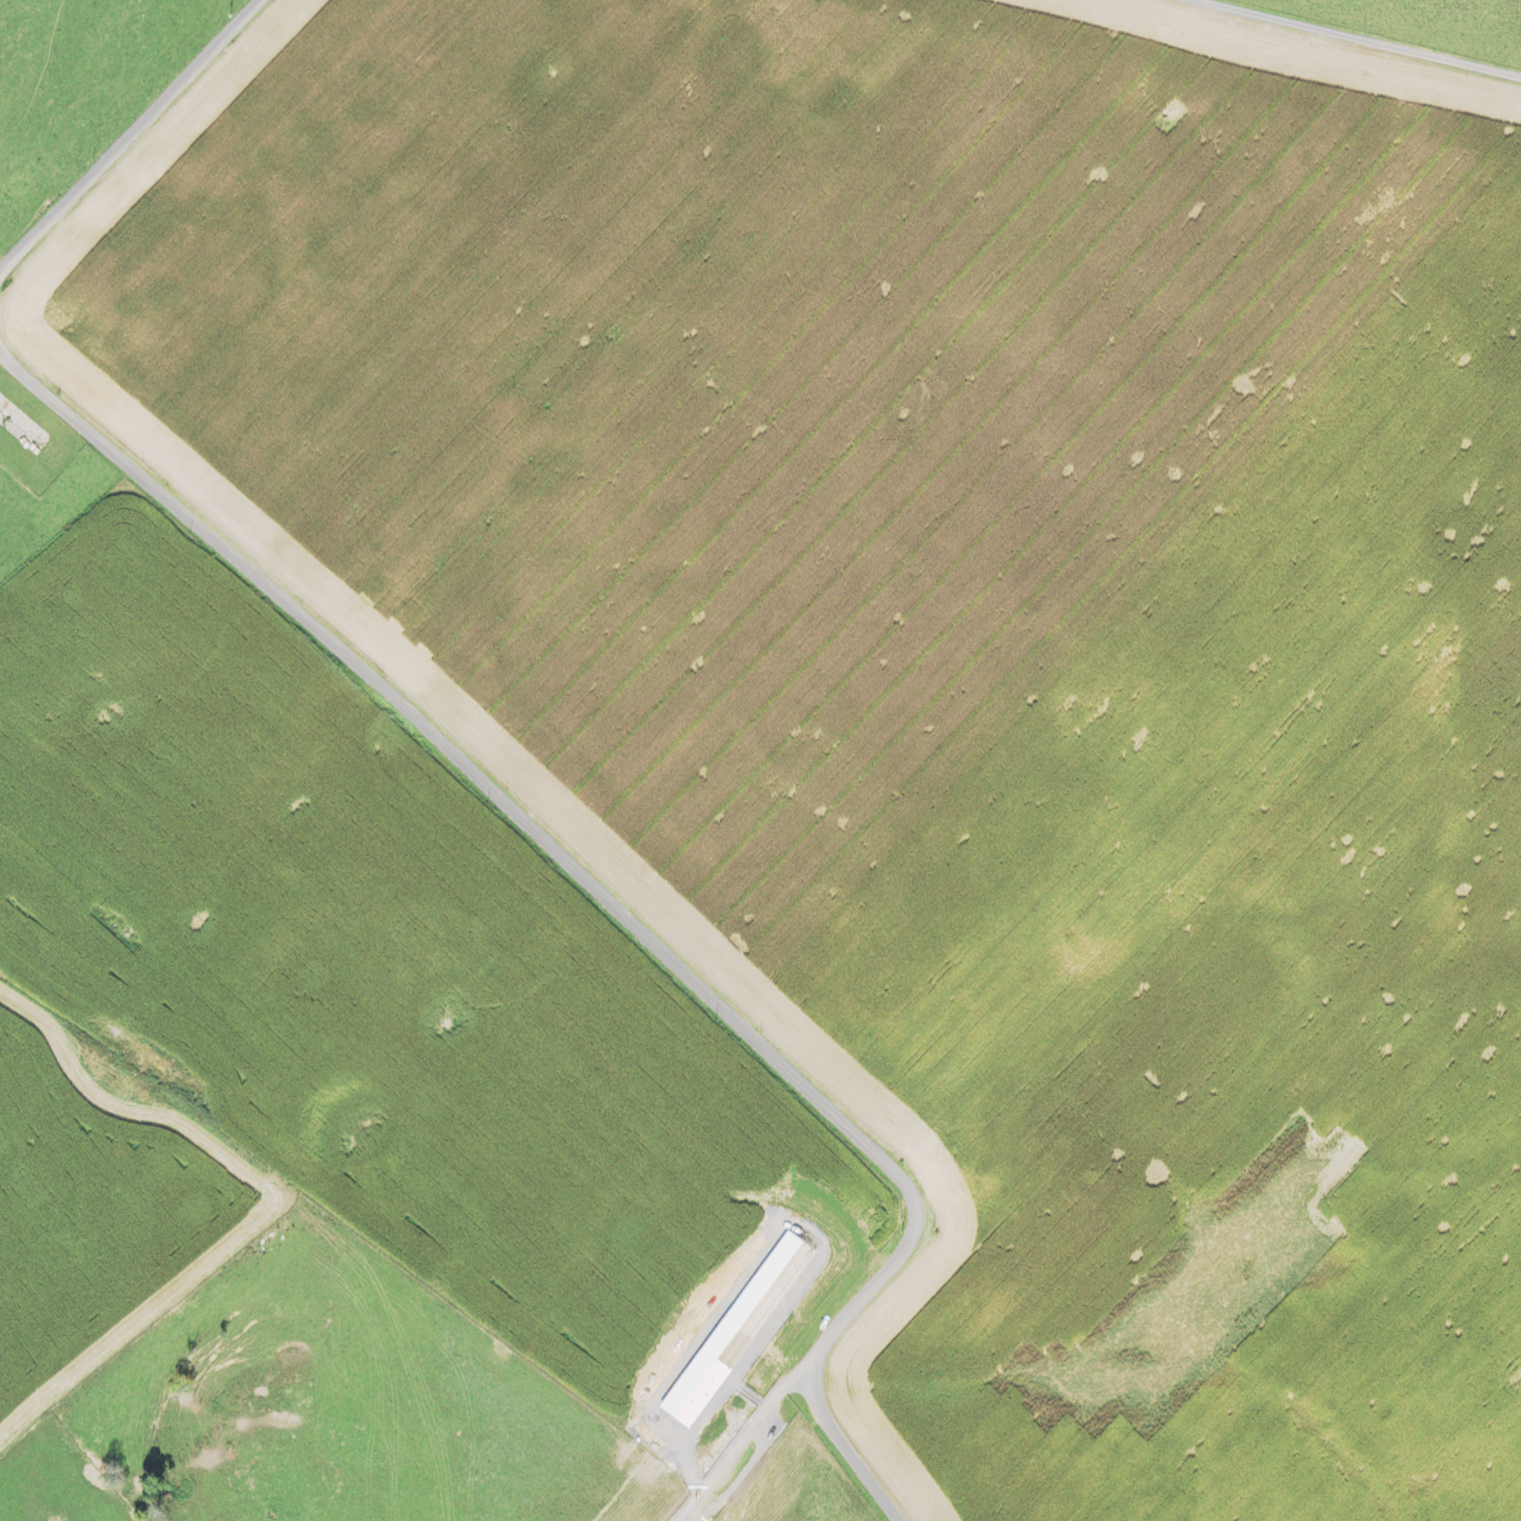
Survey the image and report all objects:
road: (1416, 20)
road: (118, 130)
road: (605, 901)

